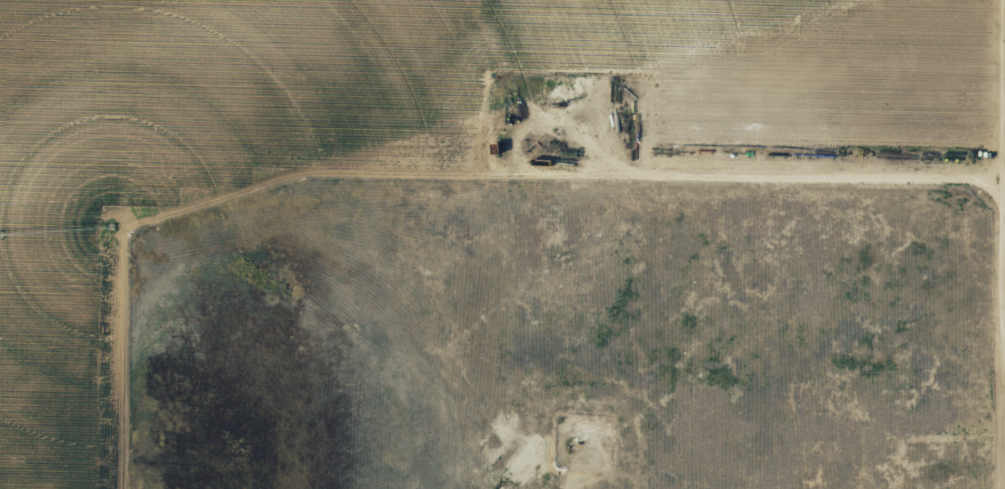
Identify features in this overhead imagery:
road: (672, 179)
road: (996, 212)

